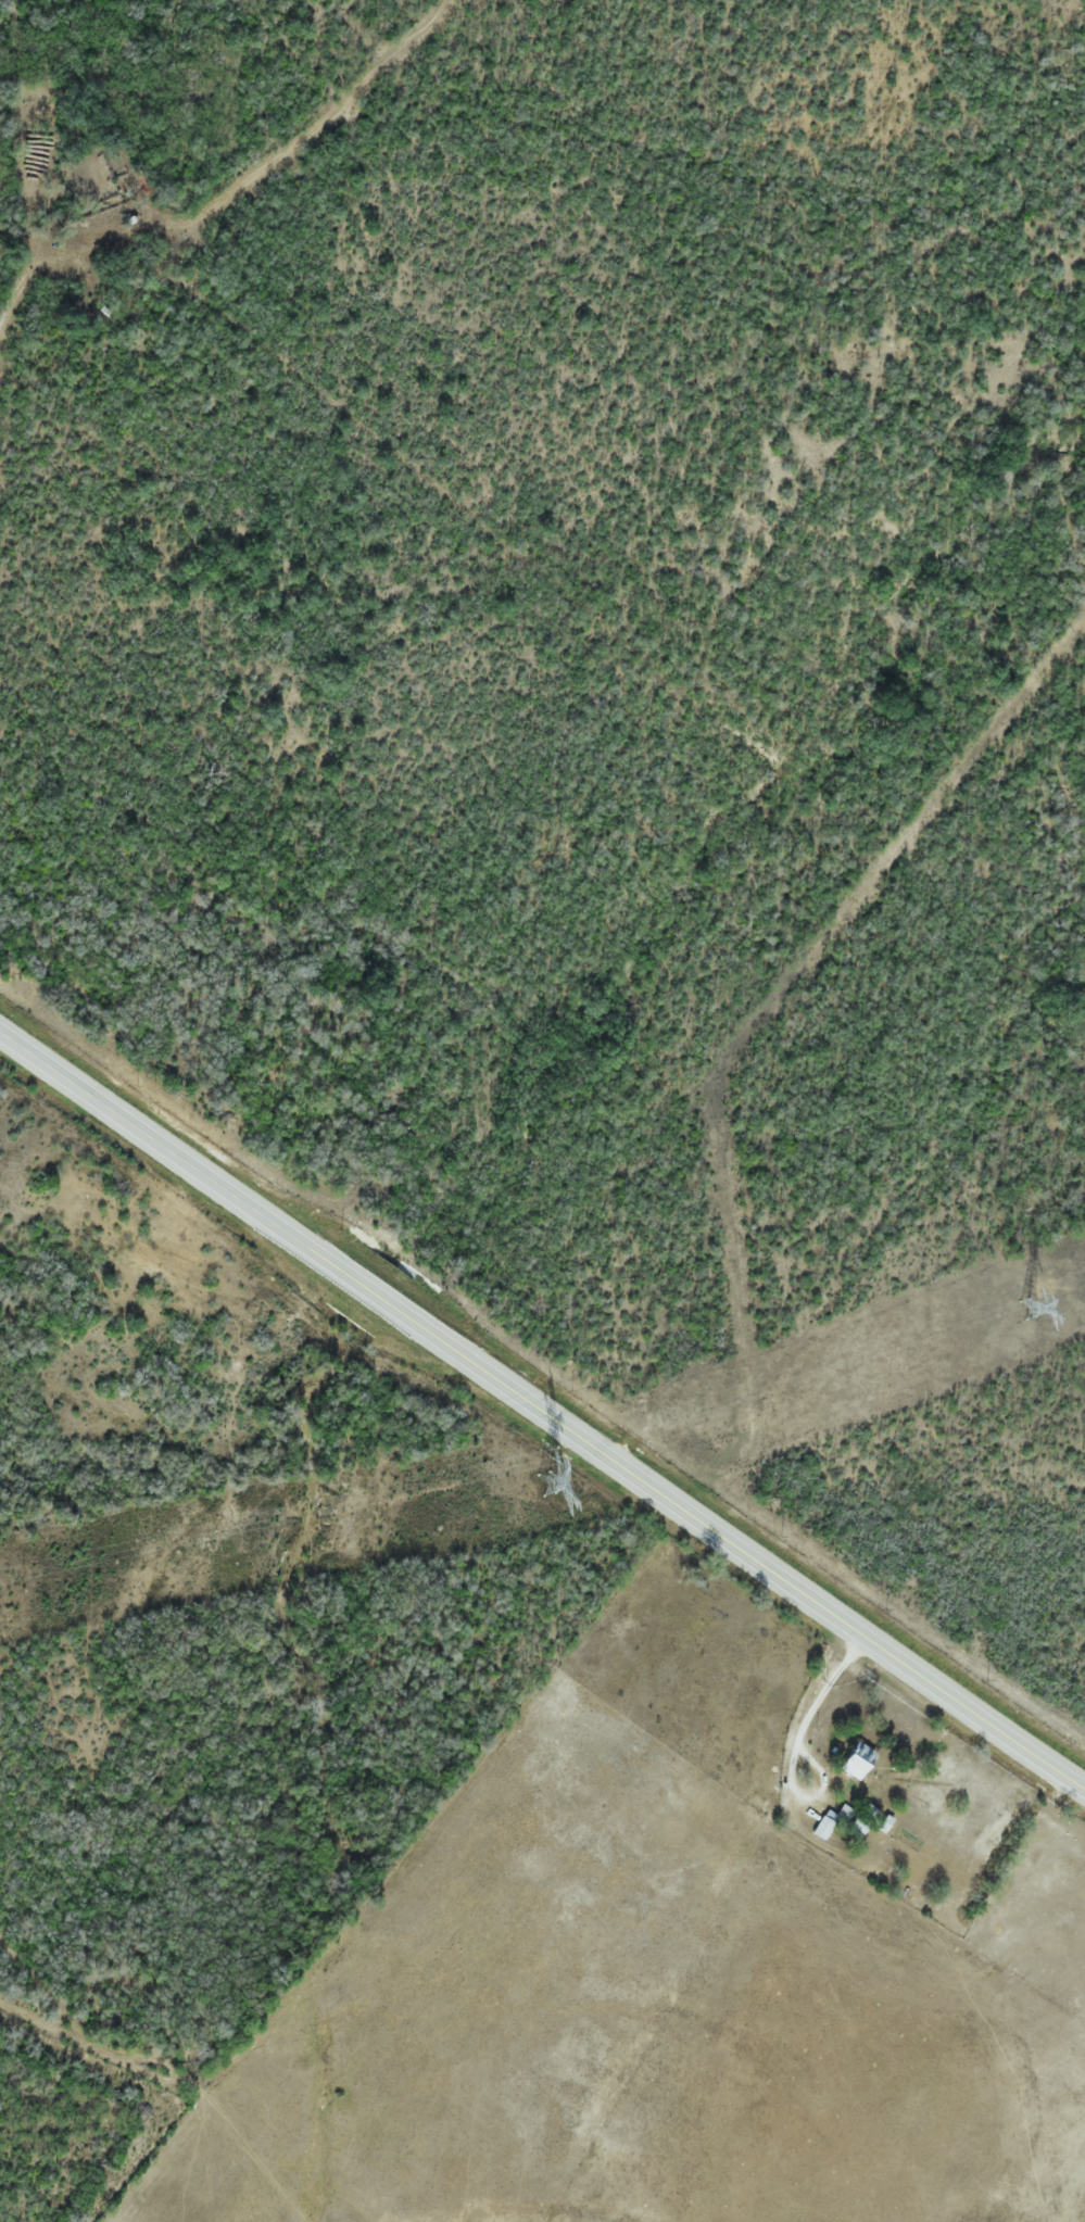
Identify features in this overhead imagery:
power tower: (1027, 1309)
road: (541, 1403)
power tower: (548, 1486)
building: (861, 1757)
building: (825, 1825)

